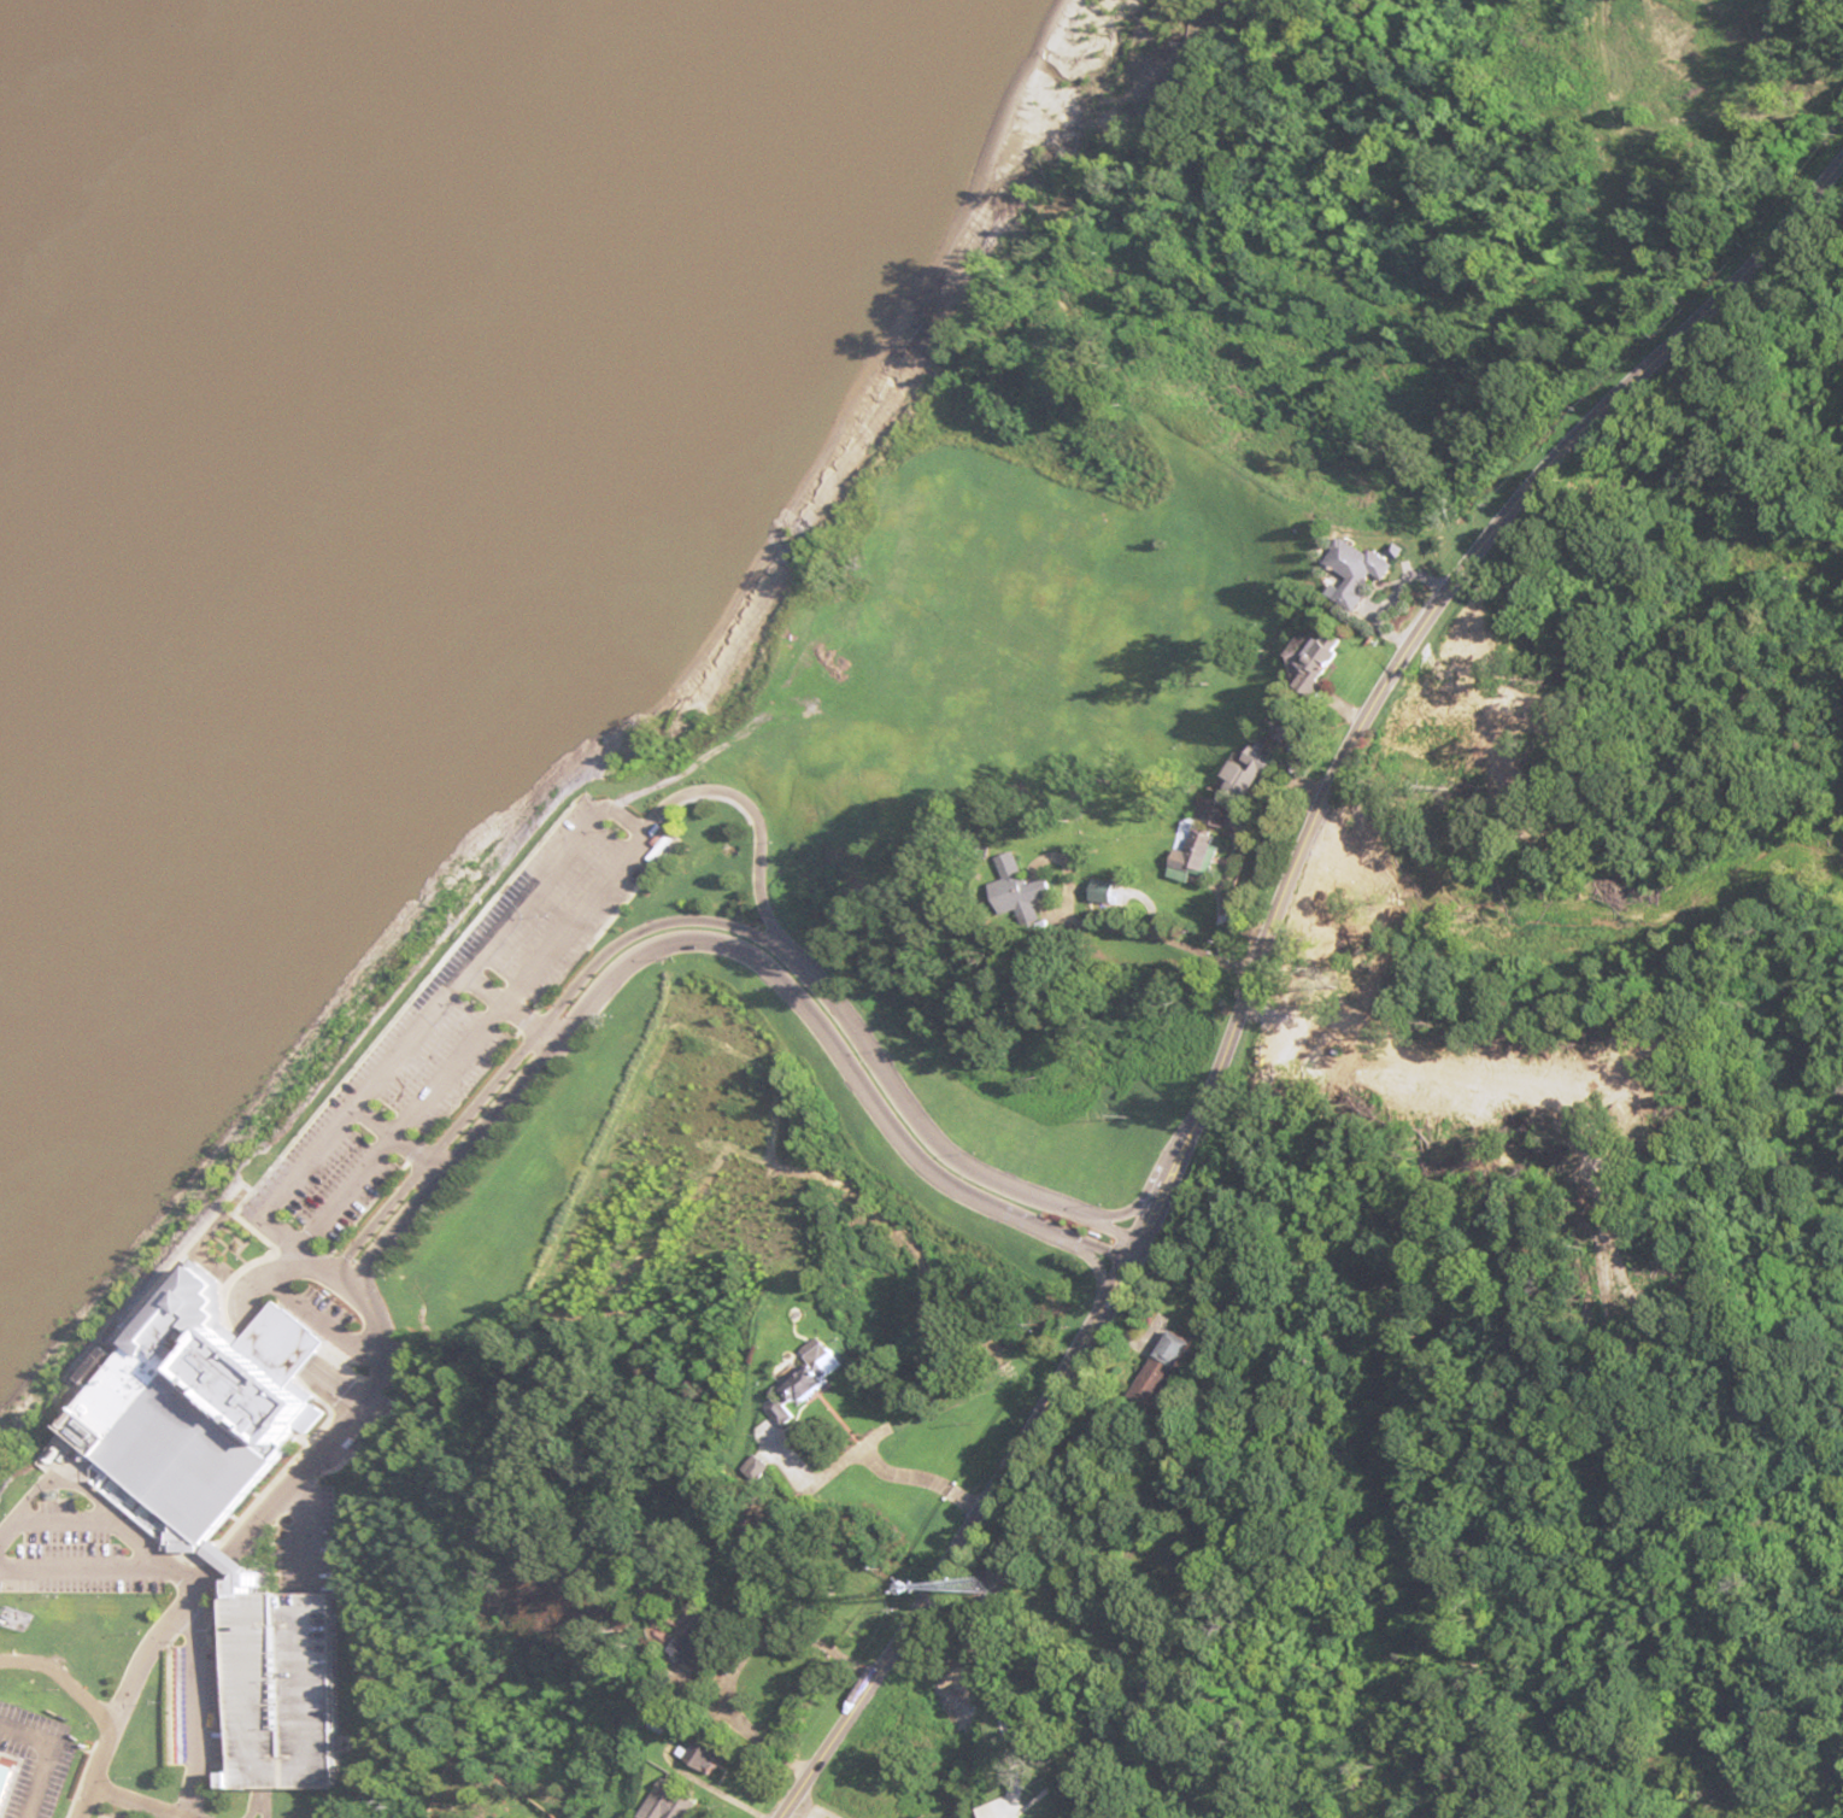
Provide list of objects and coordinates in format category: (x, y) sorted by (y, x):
building: (1364, 571)
building: (1328, 652)
building: (1255, 766)
building: (1201, 855)
building: (1027, 891)
road: (1220, 914)
building: (1169, 1367)
building: (820, 1373)
building: (222, 1478)
building: (702, 1650)
building: (710, 1757)
building: (10, 1787)
building: (676, 1801)

